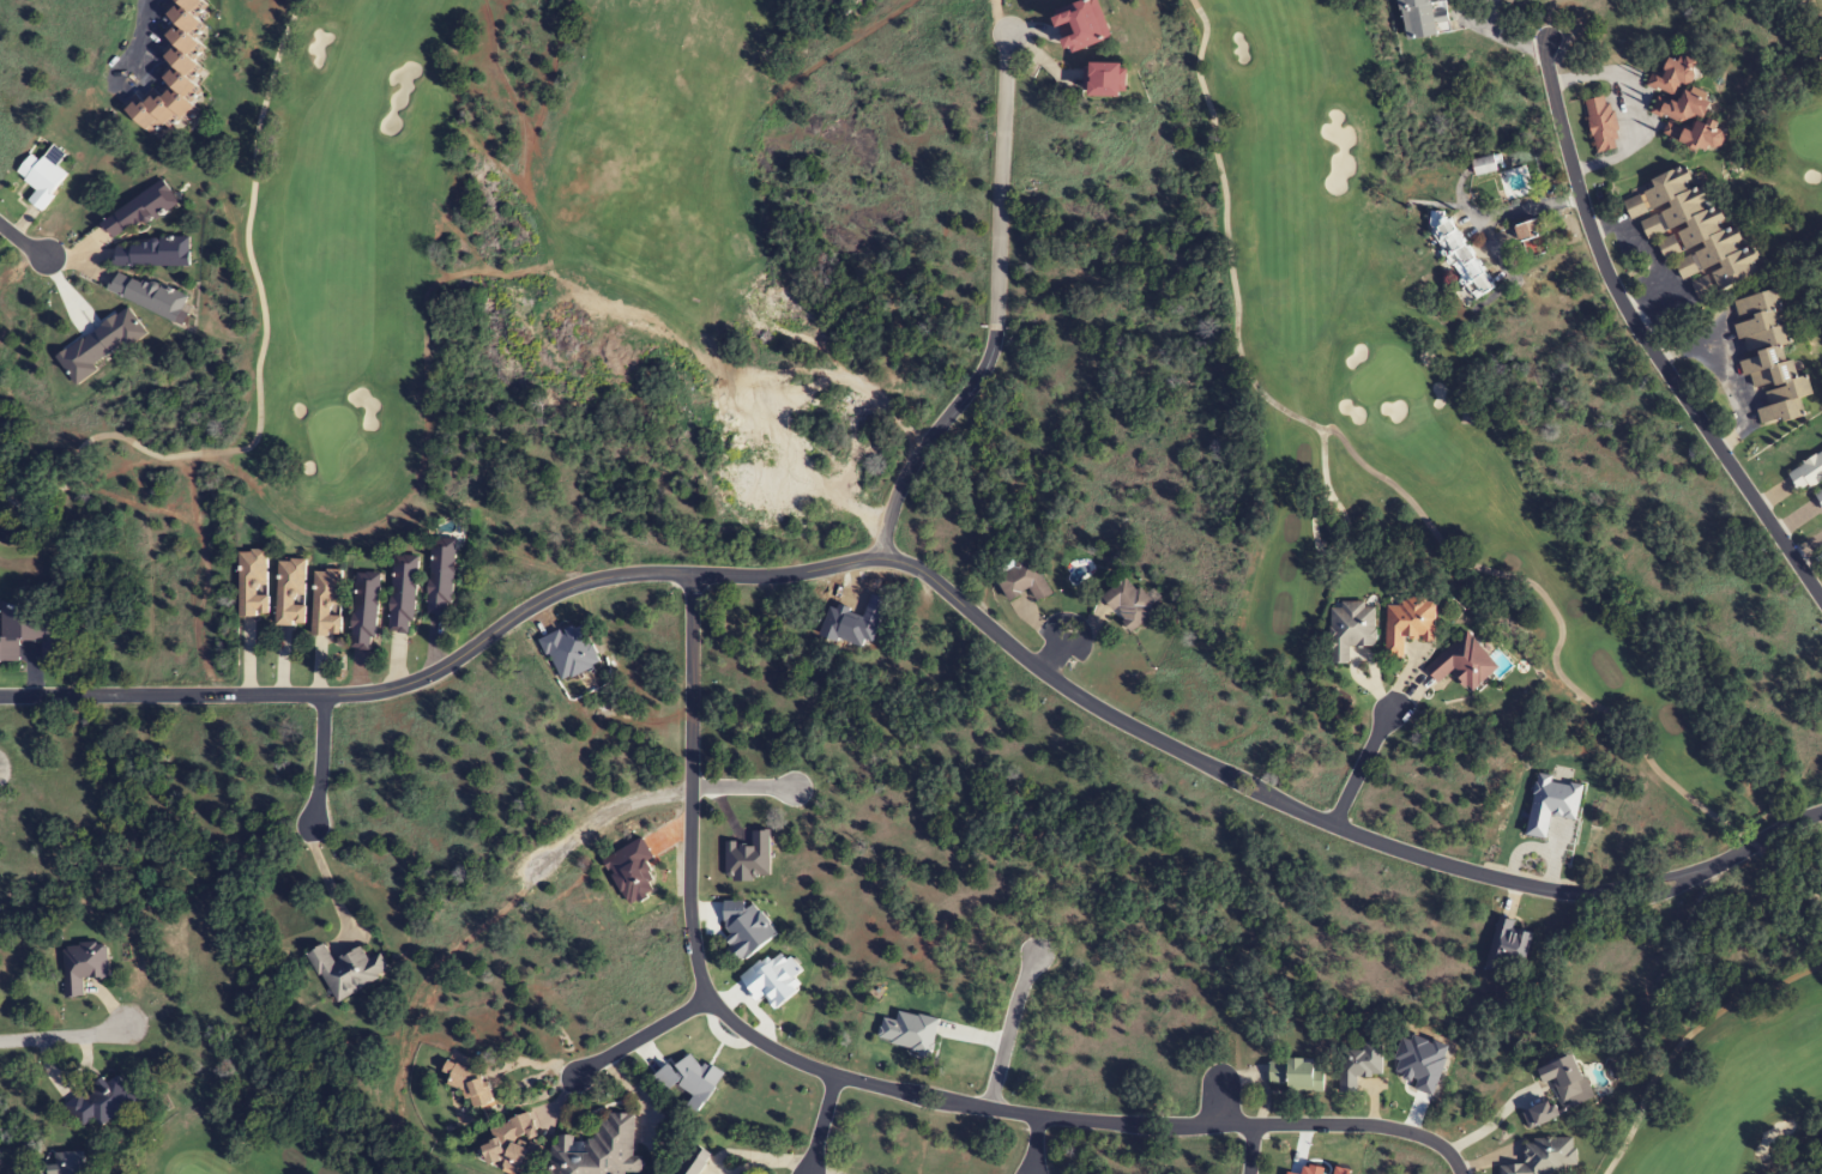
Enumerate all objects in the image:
building: (1424, 18)
building: (1079, 28)
building: (170, 73)
building: (1103, 83)
building: (1684, 107)
building: (1601, 125)
park: (1794, 141)
building: (41, 180)
building: (138, 212)
building: (1528, 230)
building: (1693, 232)
road: (22, 242)
building: (151, 253)
building: (1458, 253)
park: (488, 265)
building: (147, 295)
road: (997, 314)
road: (1641, 338)
building: (1768, 356)
building: (1806, 473)
building: (1818, 496)
park: (1483, 549)
building: (440, 576)
building: (1024, 581)
building: (252, 583)
road: (941, 585)
building: (289, 591)
building: (402, 594)
building: (326, 603)
building: (1129, 604)
building: (363, 610)
building: (1407, 624)
building: (1351, 629)
building: (31, 630)
building: (1464, 662)
road: (321, 760)
road: (1361, 765)
road: (656, 795)
building: (1508, 946)
building: (83, 966)
building: (346, 970)
road: (1008, 1030)
road: (65, 1036)
road: (642, 1036)
building: (1358, 1065)
building: (1297, 1075)
building: (1567, 1081)
road: (870, 1085)
road: (1219, 1099)
building: (102, 1102)
building: (1542, 1113)
road: (822, 1125)
park: (307, 1142)
road: (1033, 1144)
building: (512, 1145)
road: (1249, 1149)
building: (599, 1150)
building: (1544, 1157)
building: (694, 1161)
building: (65, 1163)

